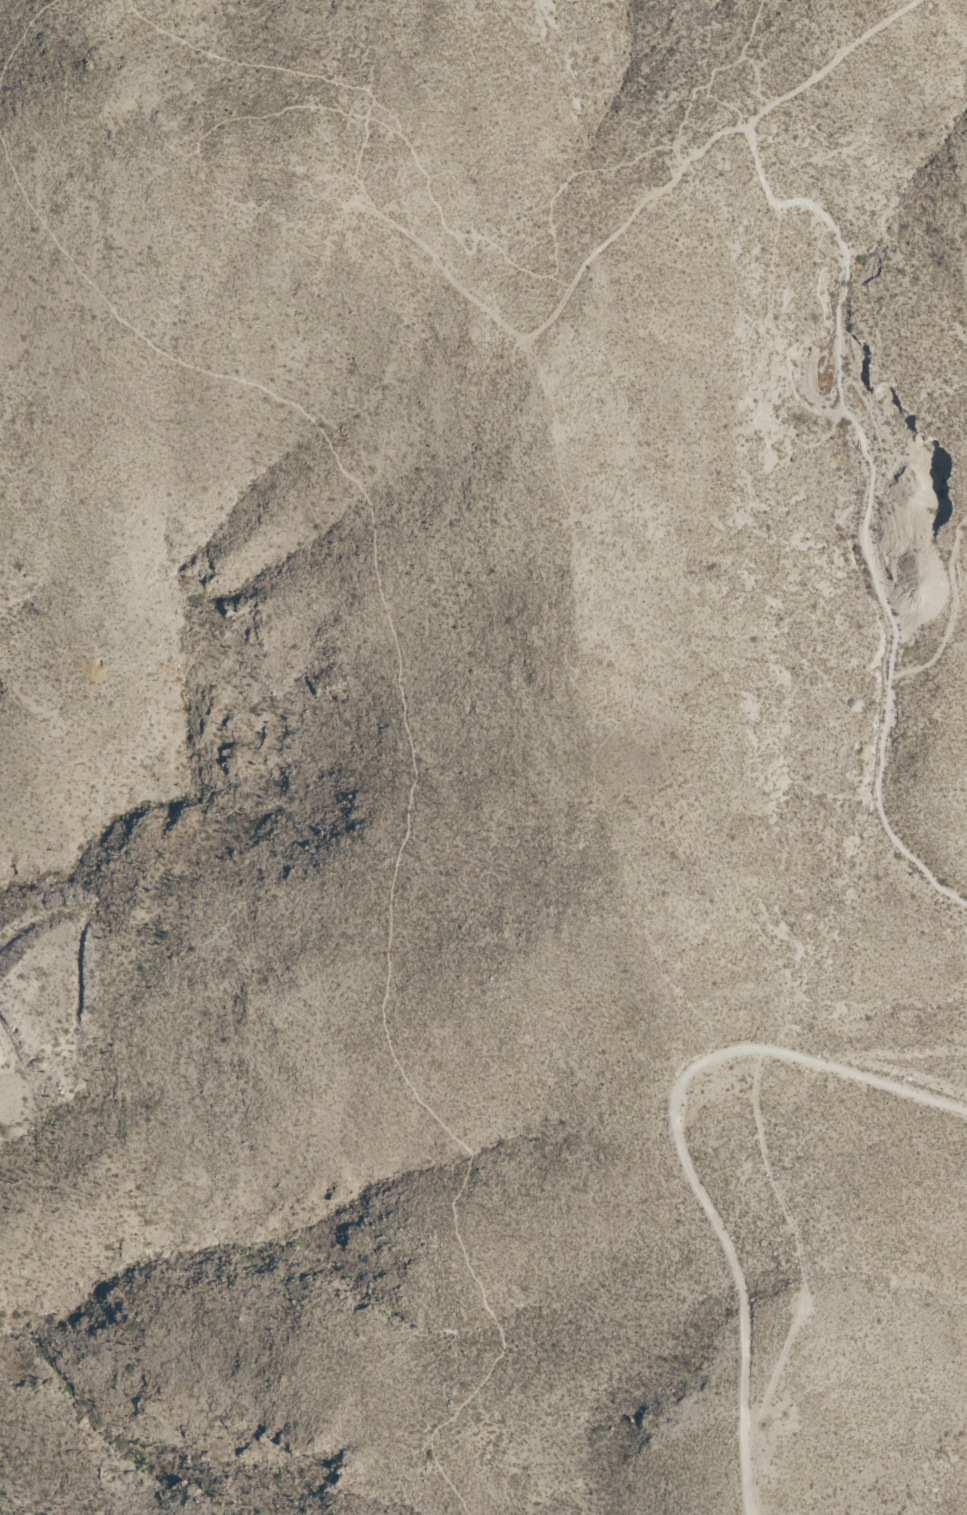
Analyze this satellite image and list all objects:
road: (22, 45)
road: (744, 54)
road: (832, 61)
road: (270, 70)
road: (373, 111)
road: (232, 122)
road: (555, 246)
road: (537, 325)
road: (867, 502)
road: (951, 611)
road: (415, 776)
road: (4, 1100)
road: (681, 1151)

